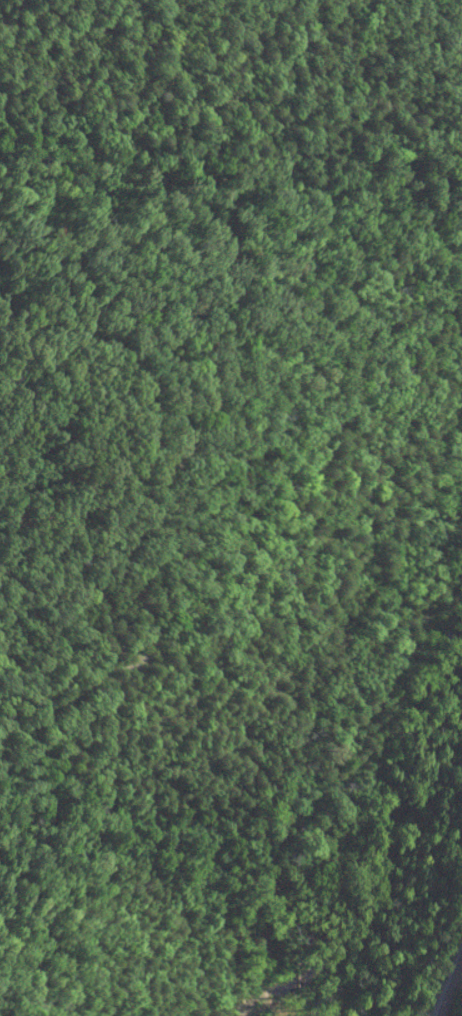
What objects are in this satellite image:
railway: (433, 949)

